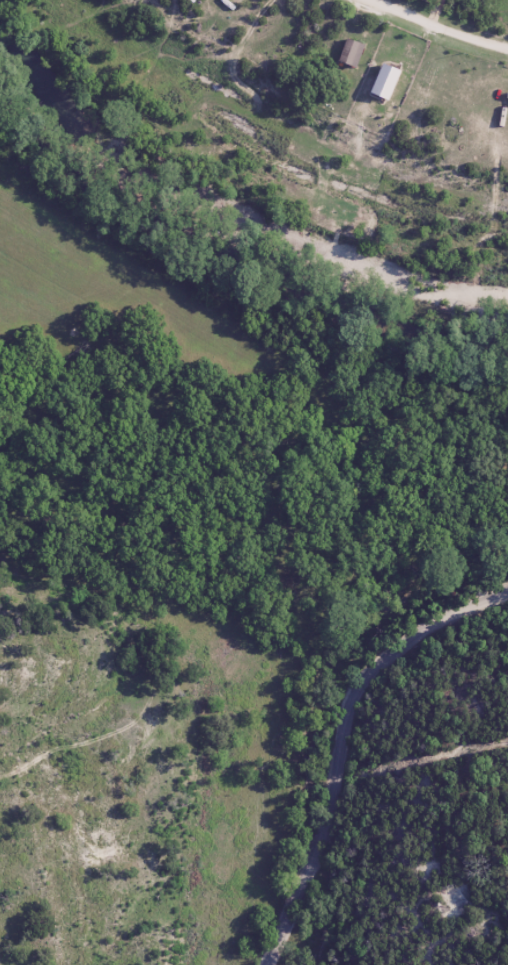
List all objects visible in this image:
road: (449, 23)
building: (347, 52)
building: (423, 82)
building: (506, 99)
river: (228, 239)
road: (349, 744)

